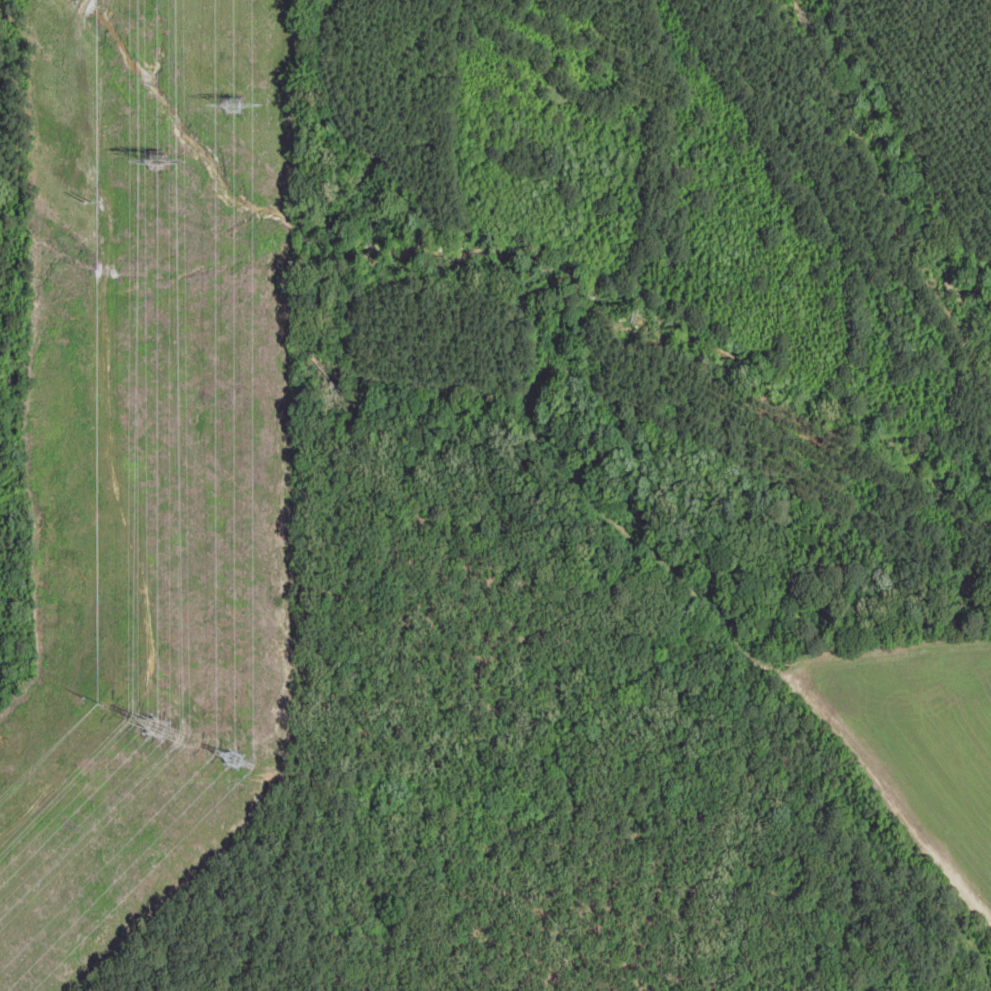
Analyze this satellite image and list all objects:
power tower: (227, 103)
power tower: (147, 155)
power tower: (147, 727)
power tower: (228, 757)

